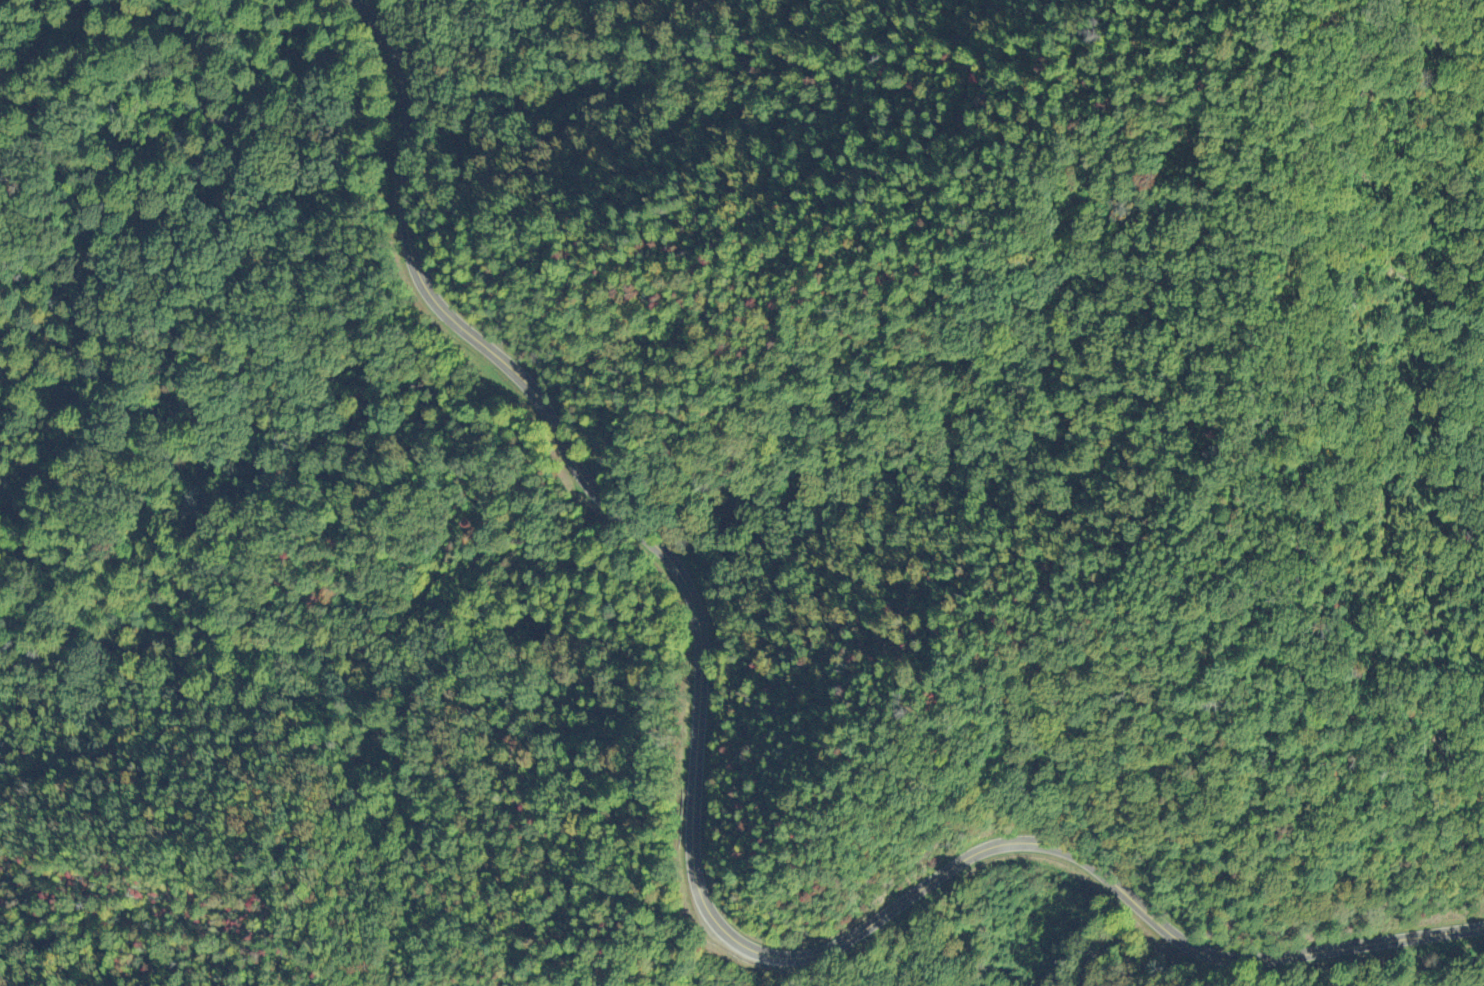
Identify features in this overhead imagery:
road: (689, 828)

